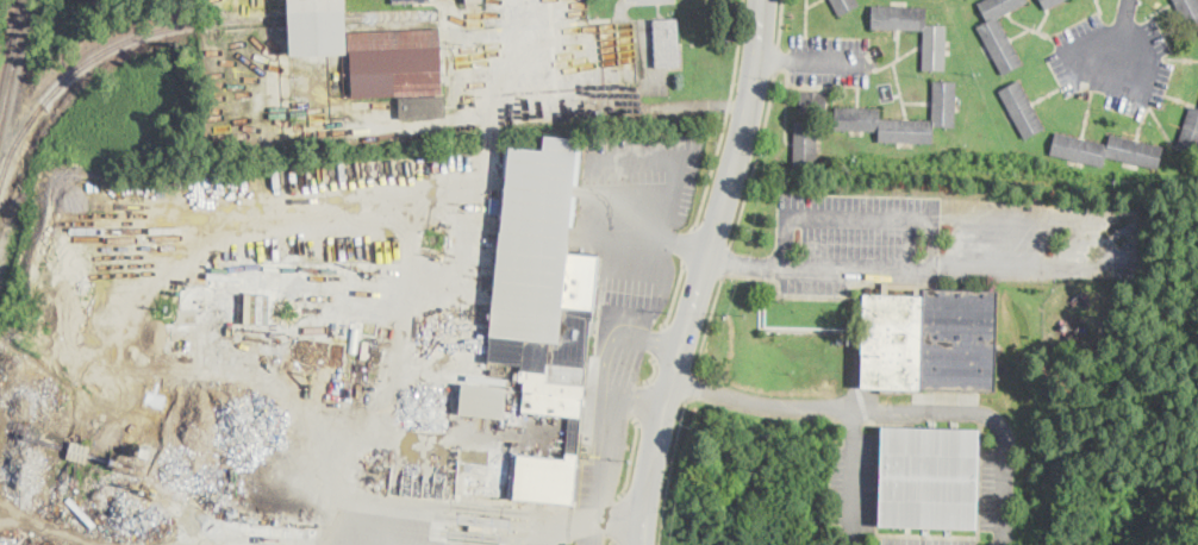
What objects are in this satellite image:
road: (651, 0)
building: (404, 1)
building: (466, 1)
parking lot: (647, 1)
building: (1049, 2)
building: (846, 5)
building: (1188, 8)
railway: (386, 12)
railway: (310, 15)
road: (779, 21)
building: (310, 27)
road: (519, 29)
building: (913, 30)
building: (999, 33)
road: (1121, 39)
building: (667, 43)
railway: (107, 44)
road: (776, 56)
road: (772, 57)
road: (826, 59)
parking lot: (829, 59)
parking lot: (1113, 61)
building: (395, 62)
railway: (13, 64)
building: (813, 101)
building: (422, 107)
building: (1021, 109)
road: (725, 114)
building: (857, 114)
building: (1190, 132)
building: (805, 144)
building: (1106, 150)
road: (755, 158)
road: (932, 214)
road: (654, 233)
road: (690, 246)
road: (725, 261)
road: (744, 261)
road: (701, 272)
building: (904, 287)
road: (675, 296)
building: (544, 303)
road: (707, 324)
road: (630, 339)
building: (931, 342)
road: (659, 343)
building: (362, 364)
road: (654, 371)
road: (691, 383)
road: (641, 399)
road: (759, 399)
road: (641, 400)
building: (480, 402)
road: (917, 407)
building: (79, 451)
building: (145, 452)
road: (632, 457)
building: (127, 464)
road: (668, 469)
building: (928, 477)
road: (600, 480)
building: (478, 499)
road: (614, 544)

